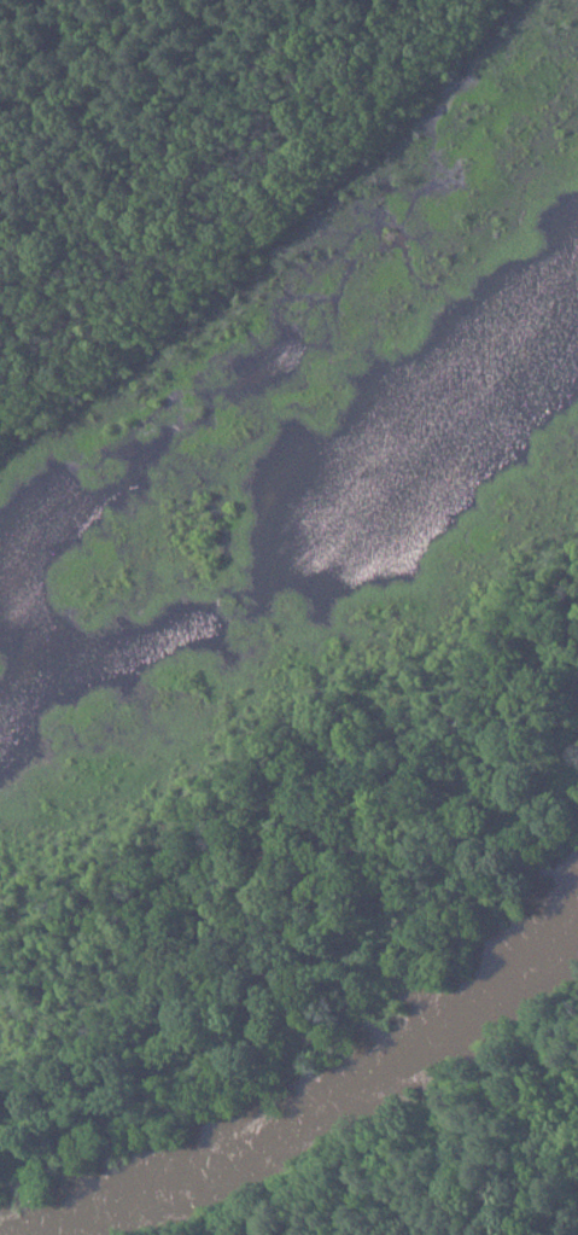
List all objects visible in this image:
river: (296, 1044)

